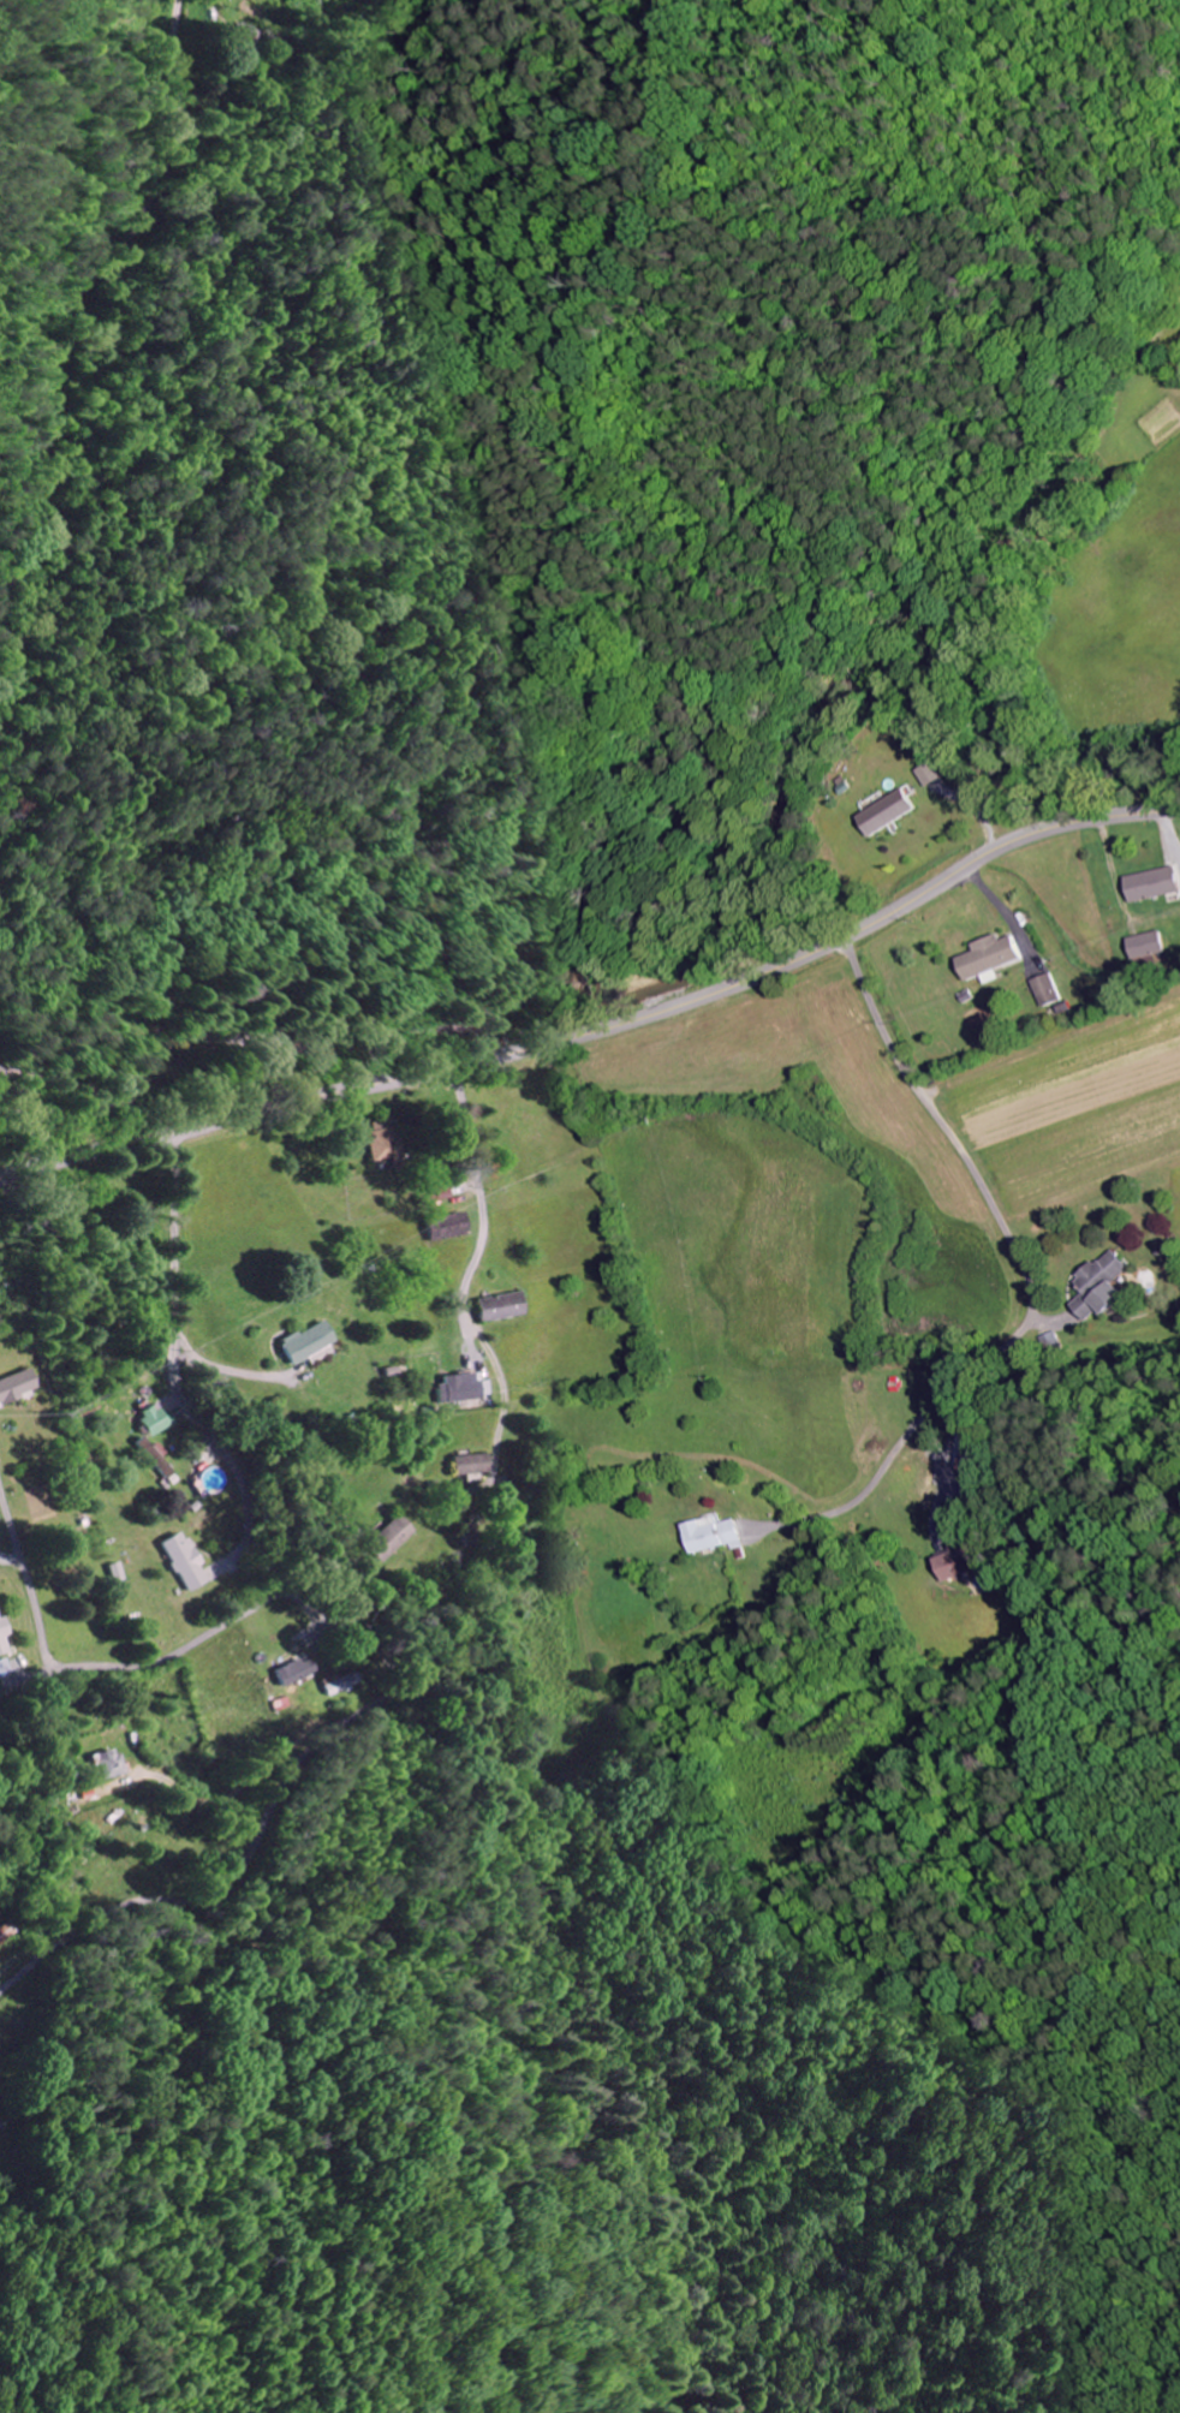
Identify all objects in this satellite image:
road: (79, 320)
building: (928, 773)
building: (884, 812)
building: (1149, 884)
building: (1143, 945)
building: (988, 957)
building: (1044, 990)
road: (604, 1029)
road: (23, 1119)
building: (382, 1143)
road: (484, 1196)
building: (445, 1227)
road: (175, 1241)
road: (1026, 1276)
building: (1096, 1286)
building: (496, 1307)
building: (302, 1343)
building: (14, 1387)
building: (458, 1388)
building: (150, 1419)
building: (466, 1466)
building: (977, 1470)
building: (713, 1535)
building: (382, 1539)
building: (179, 1561)
building: (960, 1561)
building: (113, 1574)
building: (2, 1636)
road: (88, 1663)
building: (292, 1672)
road: (357, 1714)
building: (106, 1764)
building: (0, 1937)

